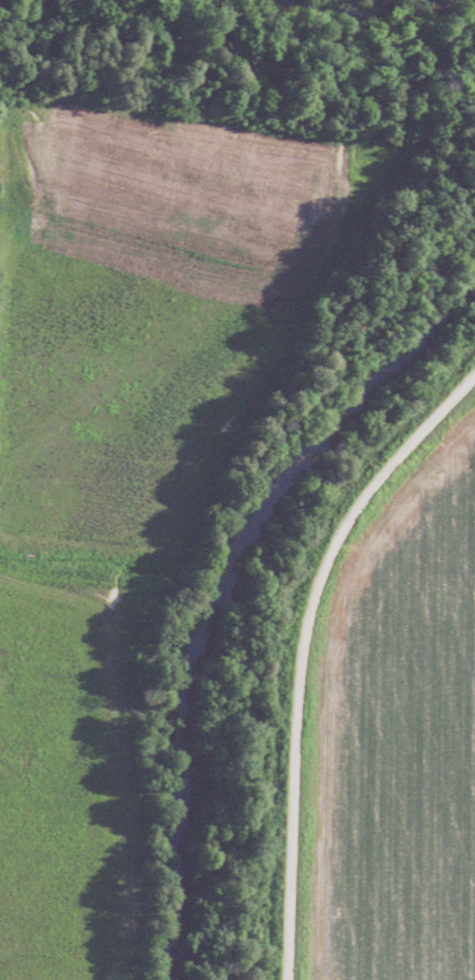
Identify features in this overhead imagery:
road: (303, 650)

